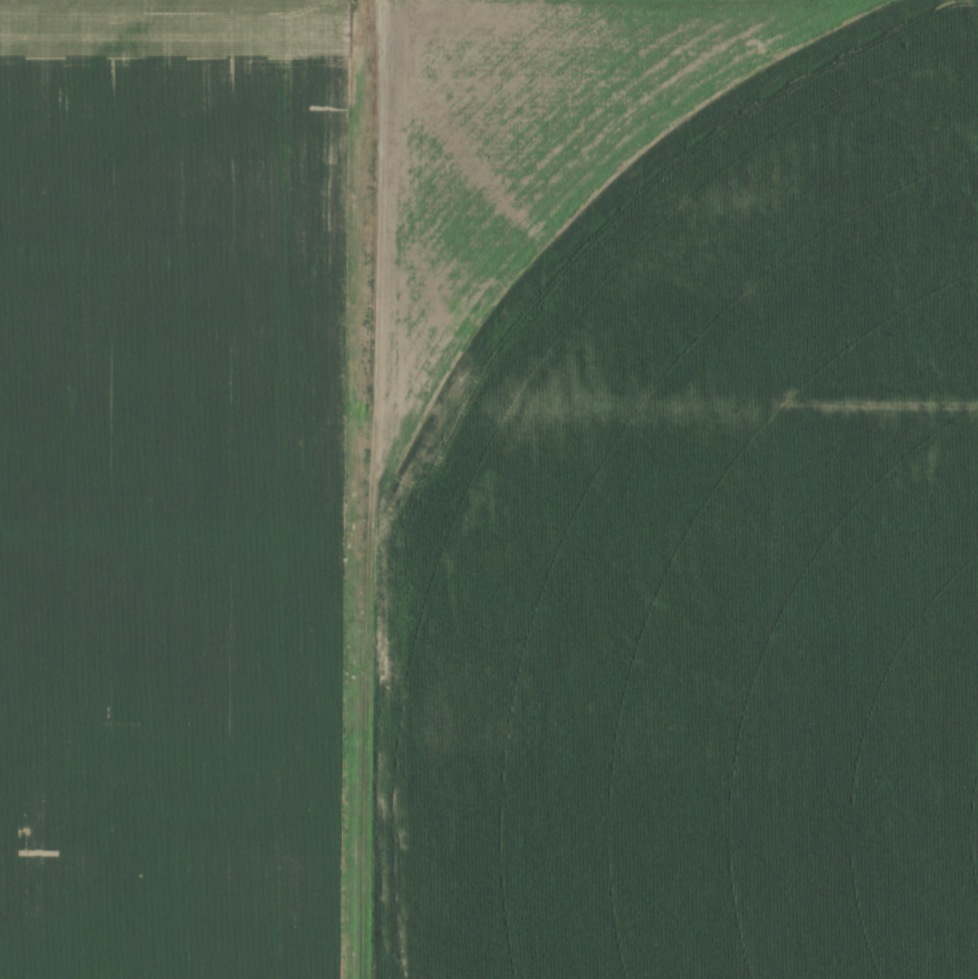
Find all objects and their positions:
crop: (172, 487)

